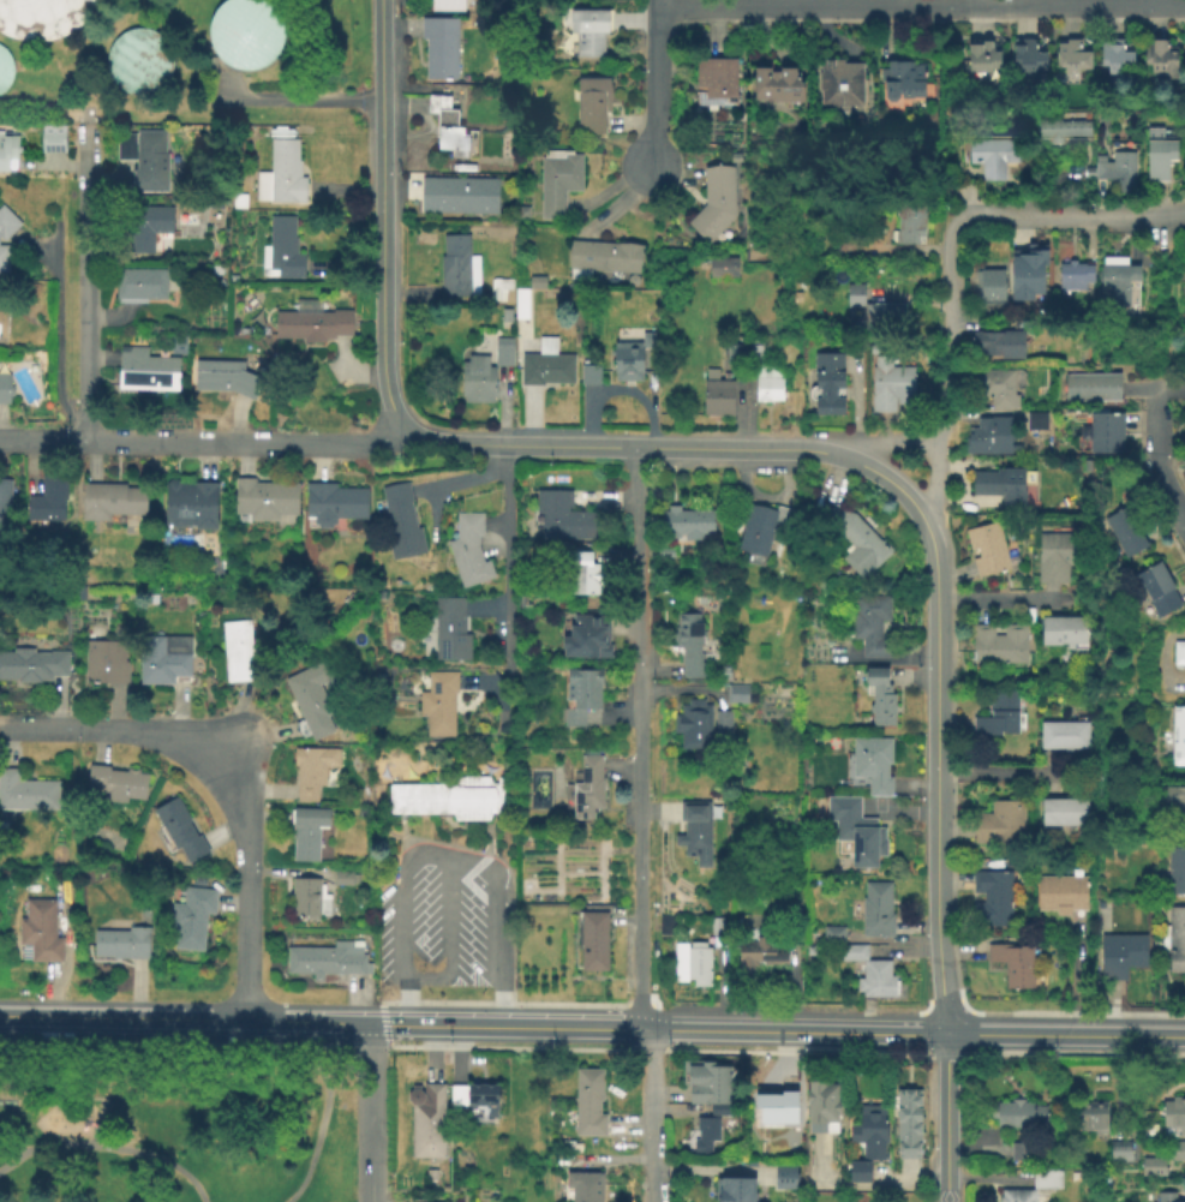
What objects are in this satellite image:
building: (443, 5)
road: (918, 5)
building: (41, 17)
road: (711, 28)
water tower: (246, 30)
building: (246, 31)
building: (587, 34)
building: (439, 49)
building: (137, 58)
water tower: (138, 59)
building: (981, 59)
building: (1071, 59)
building: (1114, 59)
building: (1027, 60)
building: (1161, 60)
building: (4, 67)
building: (900, 82)
building: (714, 83)
road: (651, 84)
building: (839, 84)
building: (776, 88)
road: (293, 101)
building: (592, 108)
building: (1061, 132)
building: (451, 136)
building: (52, 140)
building: (7, 153)
building: (1159, 157)
building: (992, 160)
building: (142, 162)
building: (1115, 171)
building: (1088, 175)
building: (281, 178)
building: (557, 184)
building: (456, 197)
building: (241, 199)
building: (714, 203)
road: (381, 215)
building: (522, 215)
road: (1177, 215)
road: (1061, 216)
building: (6, 225)
building: (908, 225)
building: (144, 228)
building: (281, 251)
building: (602, 259)
building: (4, 262)
building: (453, 268)
building: (723, 268)
building: (1027, 274)
building: (1075, 276)
road: (84, 282)
building: (1115, 282)
building: (537, 283)
building: (139, 285)
building: (502, 287)
building: (989, 288)
road: (1169, 298)
building: (520, 305)
building: (876, 313)
building: (504, 317)
building: (310, 324)
building: (1030, 325)
building: (2, 327)
road: (58, 340)
building: (997, 346)
building: (502, 353)
building: (734, 357)
building: (627, 363)
building: (545, 366)
building: (145, 372)
building: (589, 377)
building: (764, 378)
road: (948, 378)
building: (225, 381)
building: (475, 382)
building: (827, 385)
building: (888, 387)
building: (997, 388)
building: (1091, 388)
building: (4, 390)
road: (1155, 390)
building: (716, 396)
road: (1157, 415)
building: (1035, 423)
building: (988, 437)
building: (1102, 437)
road: (203, 441)
road: (672, 447)
road: (932, 478)
road: (466, 480)
building: (1001, 486)
road: (1167, 490)
building: (5, 501)
building: (47, 501)
building: (110, 502)
building: (265, 502)
building: (334, 506)
building: (188, 508)
building: (562, 519)
building: (400, 524)
building: (684, 524)
building: (760, 528)
building: (1125, 533)
building: (851, 539)
building: (987, 551)
building: (467, 552)
building: (670, 552)
building: (1057, 558)
building: (580, 575)
road: (507, 581)
building: (1156, 592)
road: (1009, 603)
building: (869, 627)
building: (449, 632)
building: (1065, 635)
building: (585, 639)
building: (689, 645)
building: (1000, 647)
building: (237, 652)
building: (1179, 654)
building: (162, 659)
building: (104, 660)
building: (31, 666)
building: (737, 694)
building: (581, 699)
building: (880, 699)
building: (311, 700)
building: (437, 705)
building: (998, 717)
building: (722, 724)
building: (692, 726)
road: (635, 736)
building: (1064, 737)
building: (1178, 737)
building: (872, 765)
building: (312, 771)
road: (936, 775)
road: (1011, 775)
road: (226, 779)
building: (116, 785)
building: (585, 790)
building: (26, 795)
building: (449, 801)
building: (1174, 807)
building: (1064, 815)
building: (1000, 826)
building: (178, 832)
building: (694, 832)
building: (306, 833)
building: (857, 836)
road: (417, 853)
building: (1175, 874)
building: (343, 879)
building: (1061, 895)
building: (304, 899)
building: (992, 899)
building: (875, 911)
building: (190, 919)
road: (450, 919)
parking lot: (445, 922)
building: (668, 926)
building: (720, 926)
building: (40, 931)
building: (832, 935)
road: (892, 941)
building: (1174, 941)
building: (592, 943)
building: (120, 945)
road: (957, 947)
building: (813, 950)
building: (851, 953)
road: (904, 953)
building: (1120, 957)
building: (324, 961)
building: (758, 961)
building: (689, 964)
building: (1012, 964)
road: (1075, 976)
building: (867, 982)
building: (884, 982)
road: (405, 1001)
road: (505, 1003)
road: (634, 1003)
road: (866, 1018)
road: (185, 1019)
road: (387, 1021)
road: (508, 1024)
road: (795, 1029)
road: (1064, 1031)
road: (175, 1036)
road: (372, 1040)
road: (513, 1042)
road: (640, 1046)
building: (707, 1082)
road: (325, 1087)
building: (473, 1100)
building: (821, 1102)
building: (586, 1104)
building: (776, 1106)
building: (719, 1111)
road: (371, 1112)
road: (648, 1113)
building: (1173, 1113)
road: (947, 1116)
building: (1021, 1116)
building: (1090, 1116)
park: (175, 1122)
building: (427, 1124)
building: (908, 1124)
building: (869, 1132)
building: (704, 1136)
building: (780, 1142)
road: (107, 1147)
road: (12, 1148)
building: (1019, 1152)
building: (1178, 1152)
building: (1119, 1153)
building: (1151, 1165)
building: (858, 1172)
building: (429, 1176)
building: (783, 1178)
building: (1107, 1180)
road: (861, 1185)
building: (583, 1186)
building: (1034, 1186)
building: (443, 1190)
building: (734, 1190)
building: (1165, 1197)

